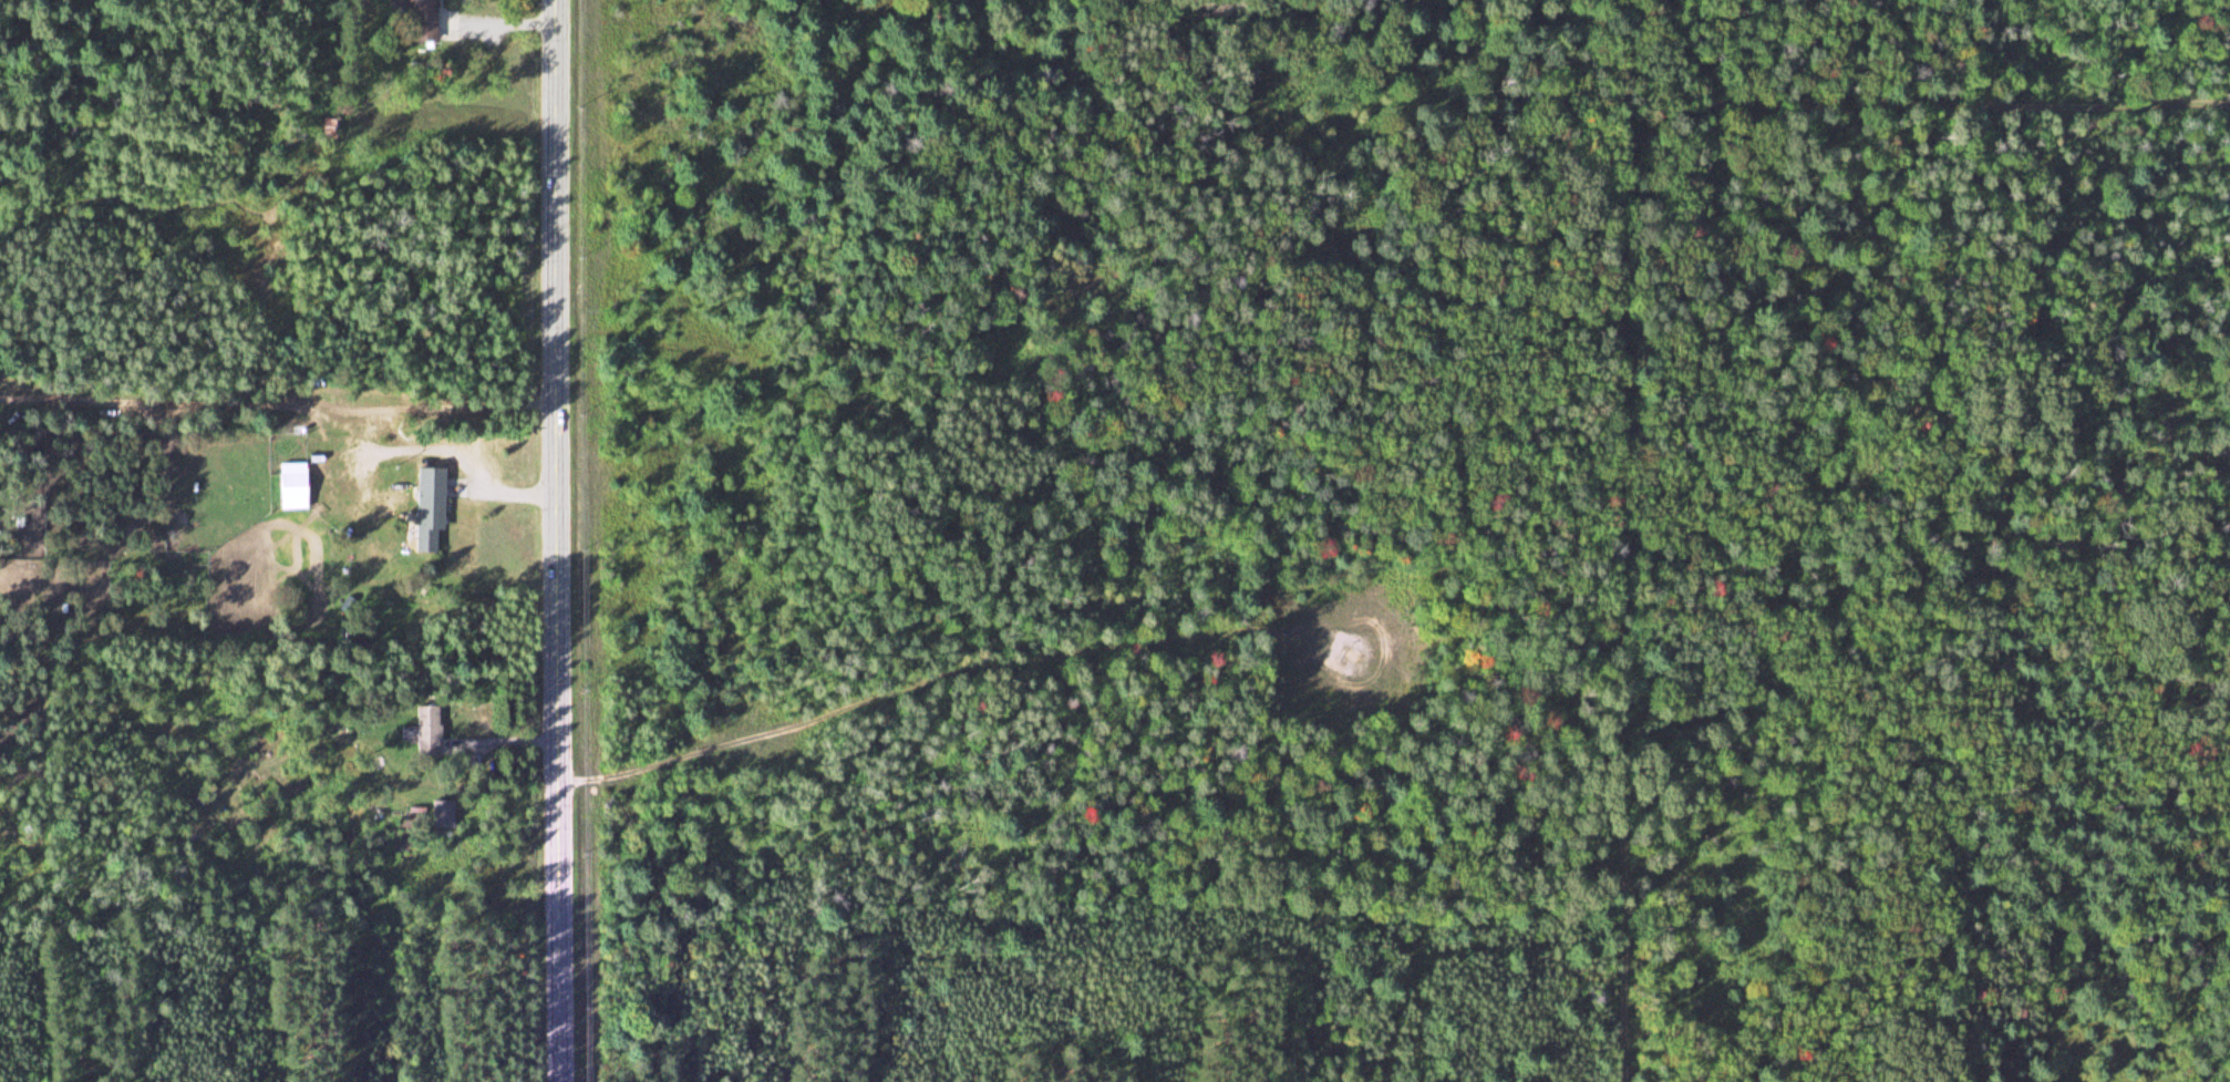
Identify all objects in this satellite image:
building: (422, 20)
building: (328, 125)
road: (1610, 307)
building: (291, 486)
building: (255, 494)
building: (427, 507)
road: (857, 533)
road: (556, 540)
road: (710, 587)
building: (425, 730)
building: (441, 814)

